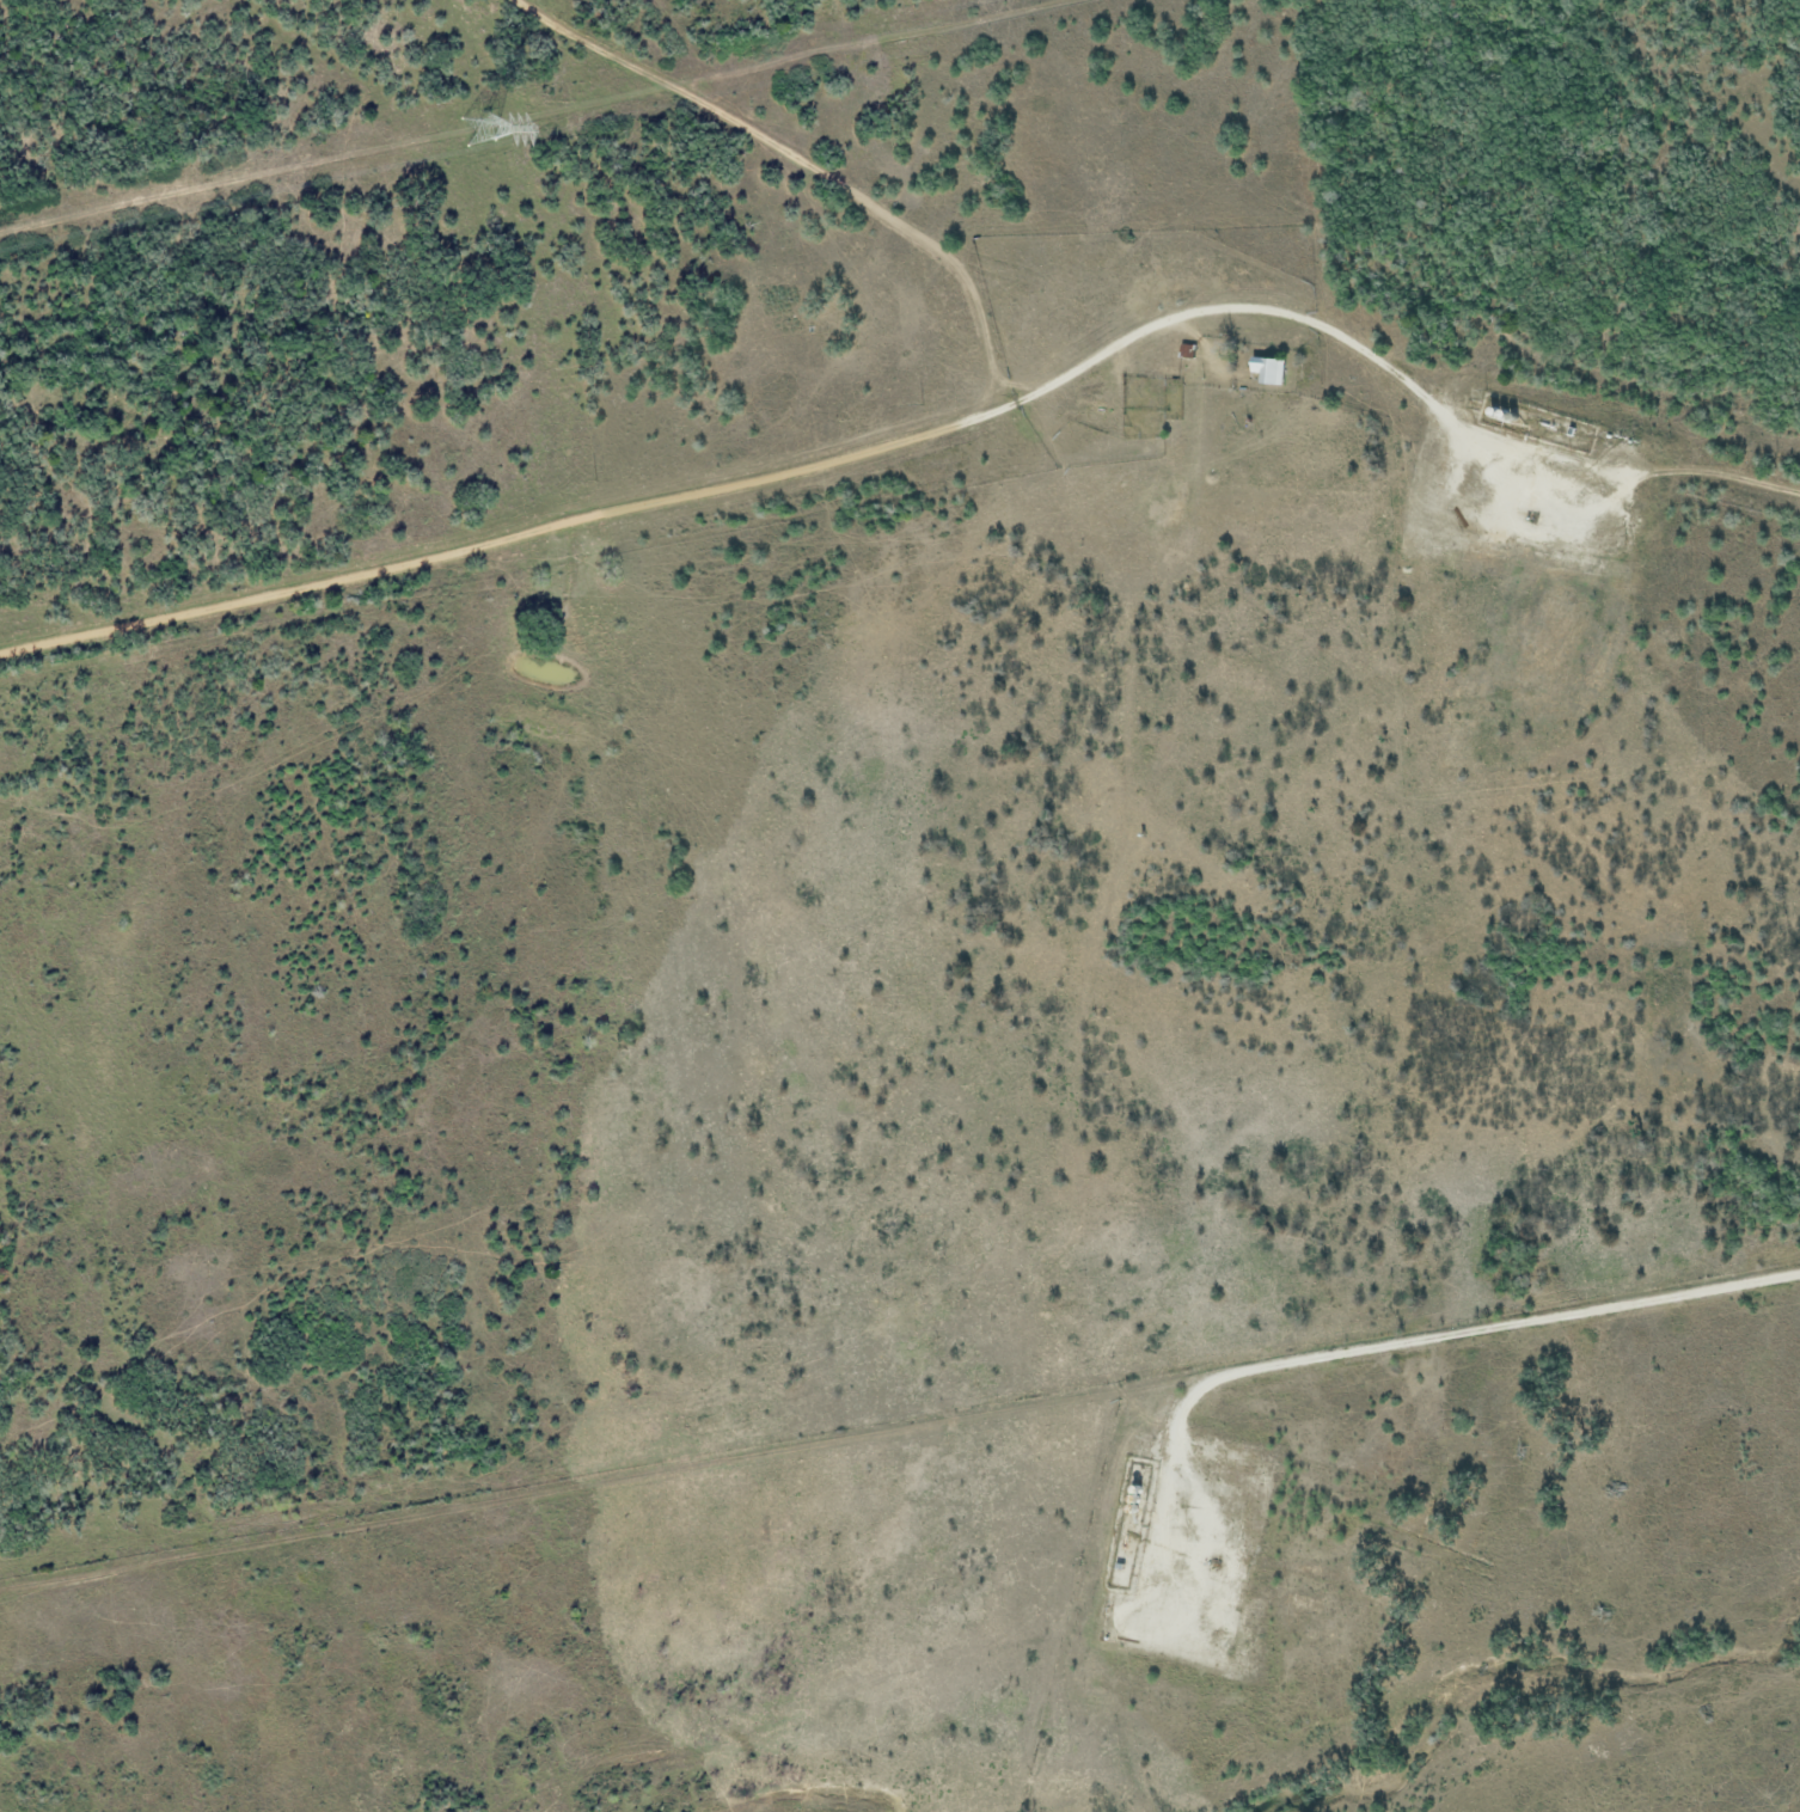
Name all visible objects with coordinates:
power tower: (479, 128)
building: (1267, 369)

